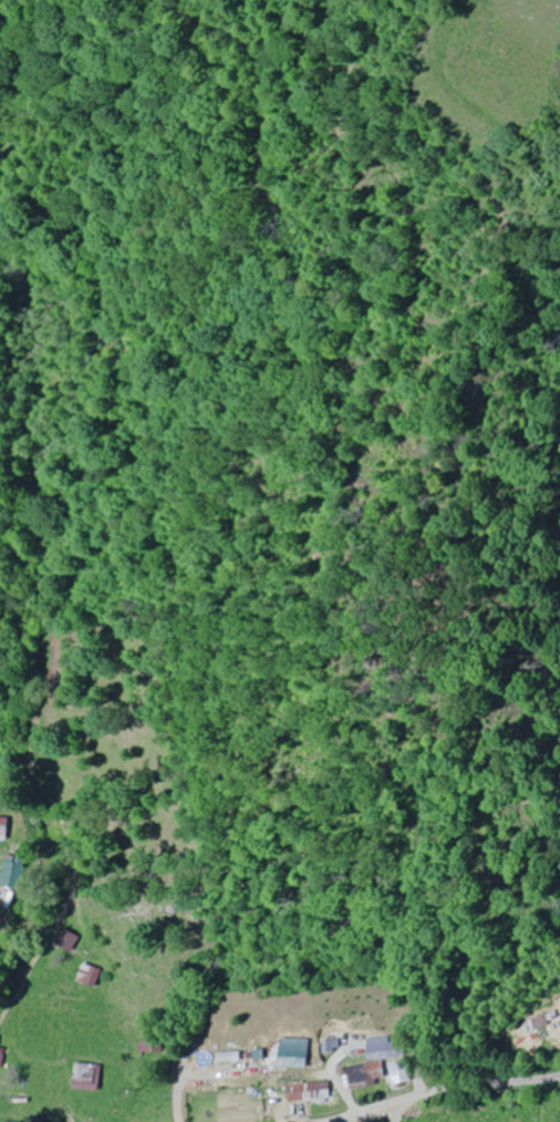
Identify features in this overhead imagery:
building: (6, 827)
building: (17, 874)
building: (90, 975)
building: (546, 1022)
building: (298, 1058)
building: (376, 1061)
building: (400, 1072)
building: (91, 1075)
building: (303, 1091)
road: (519, 1119)

